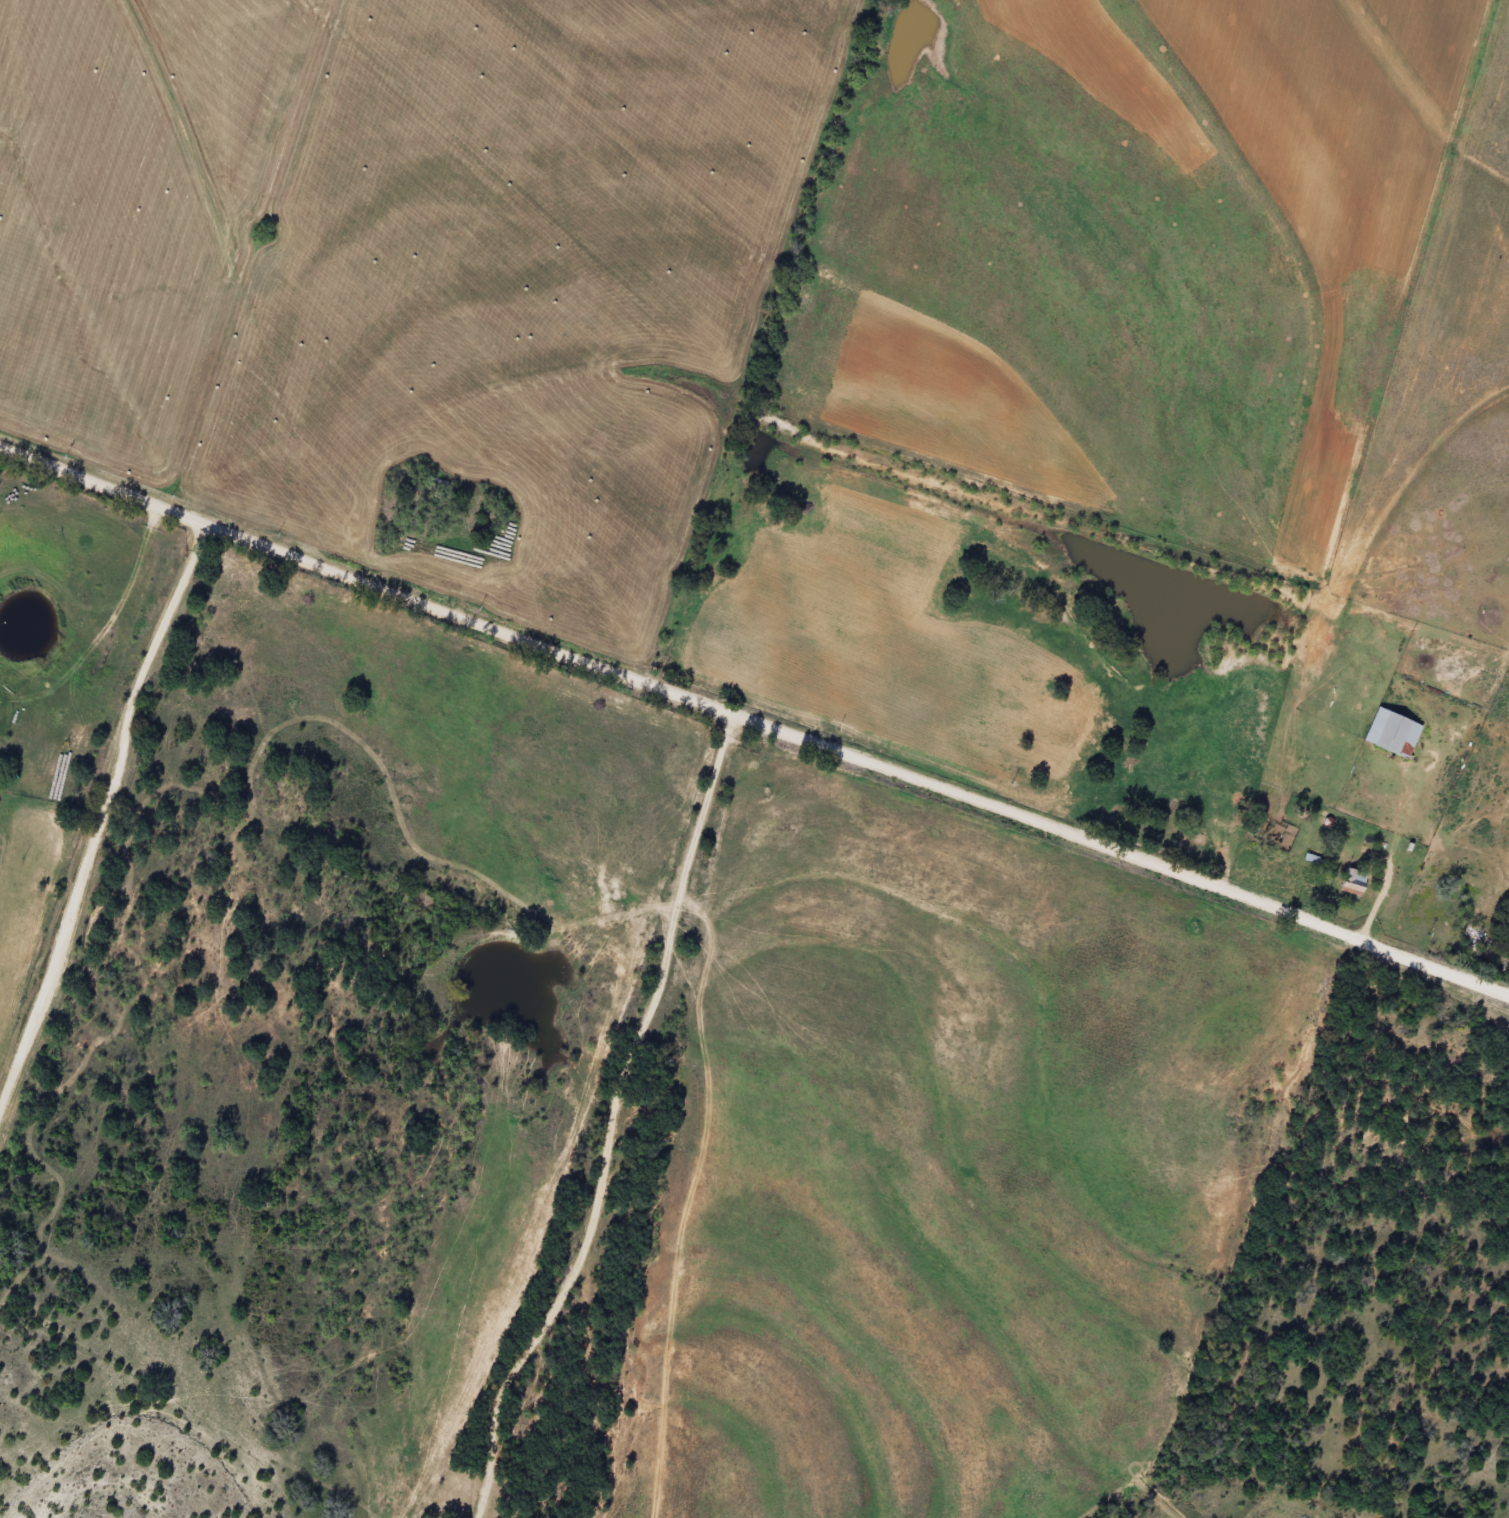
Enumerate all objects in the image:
road: (755, 692)
building: (1395, 732)
building: (1357, 876)
road: (600, 1108)

